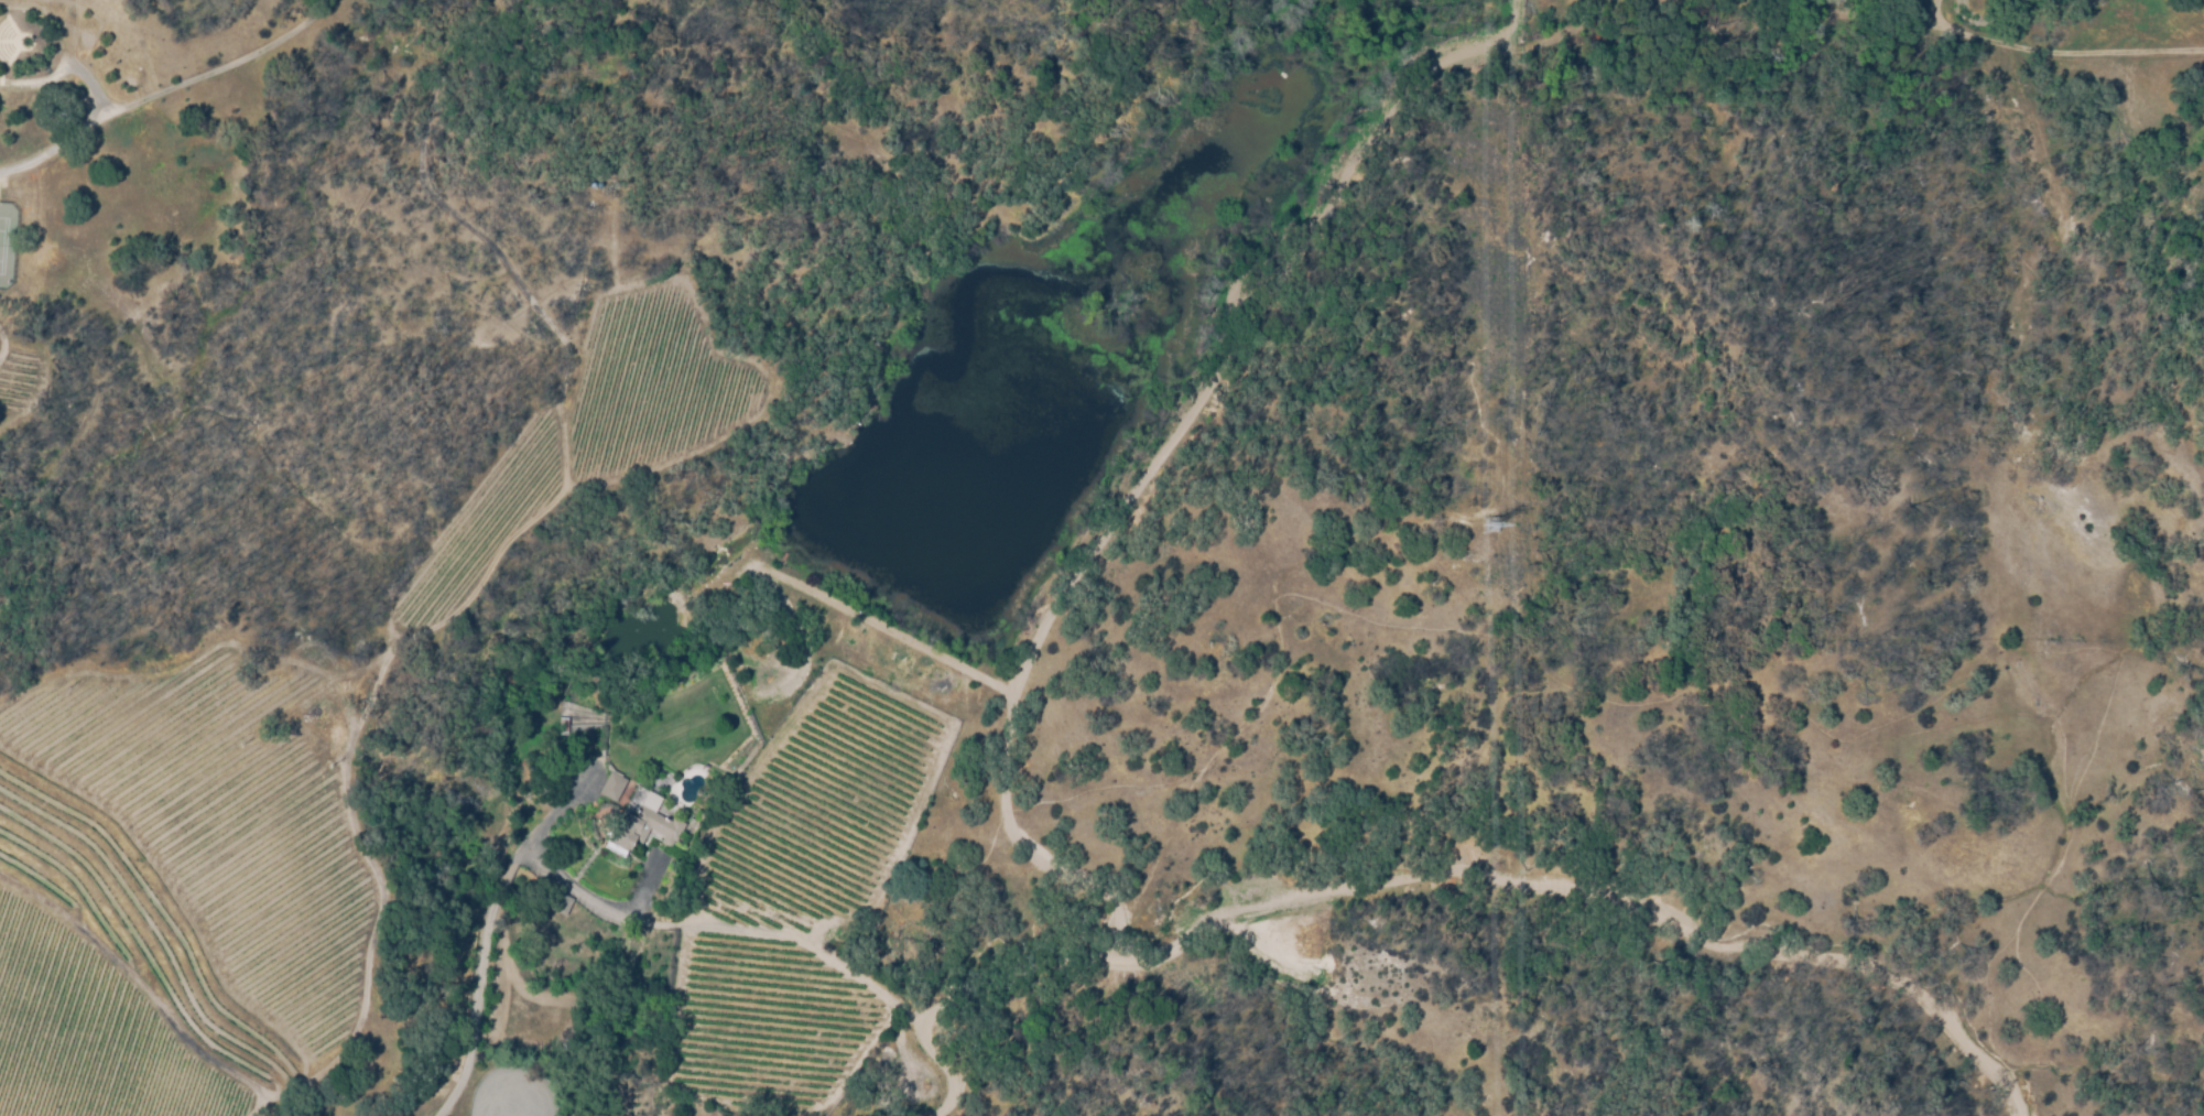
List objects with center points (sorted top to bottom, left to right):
road: (79, 124)
park: (10, 232)
power tower: (1494, 530)
building: (565, 711)
building: (612, 787)
building: (643, 827)
building: (558, 903)
road: (484, 962)
road: (976, 997)

